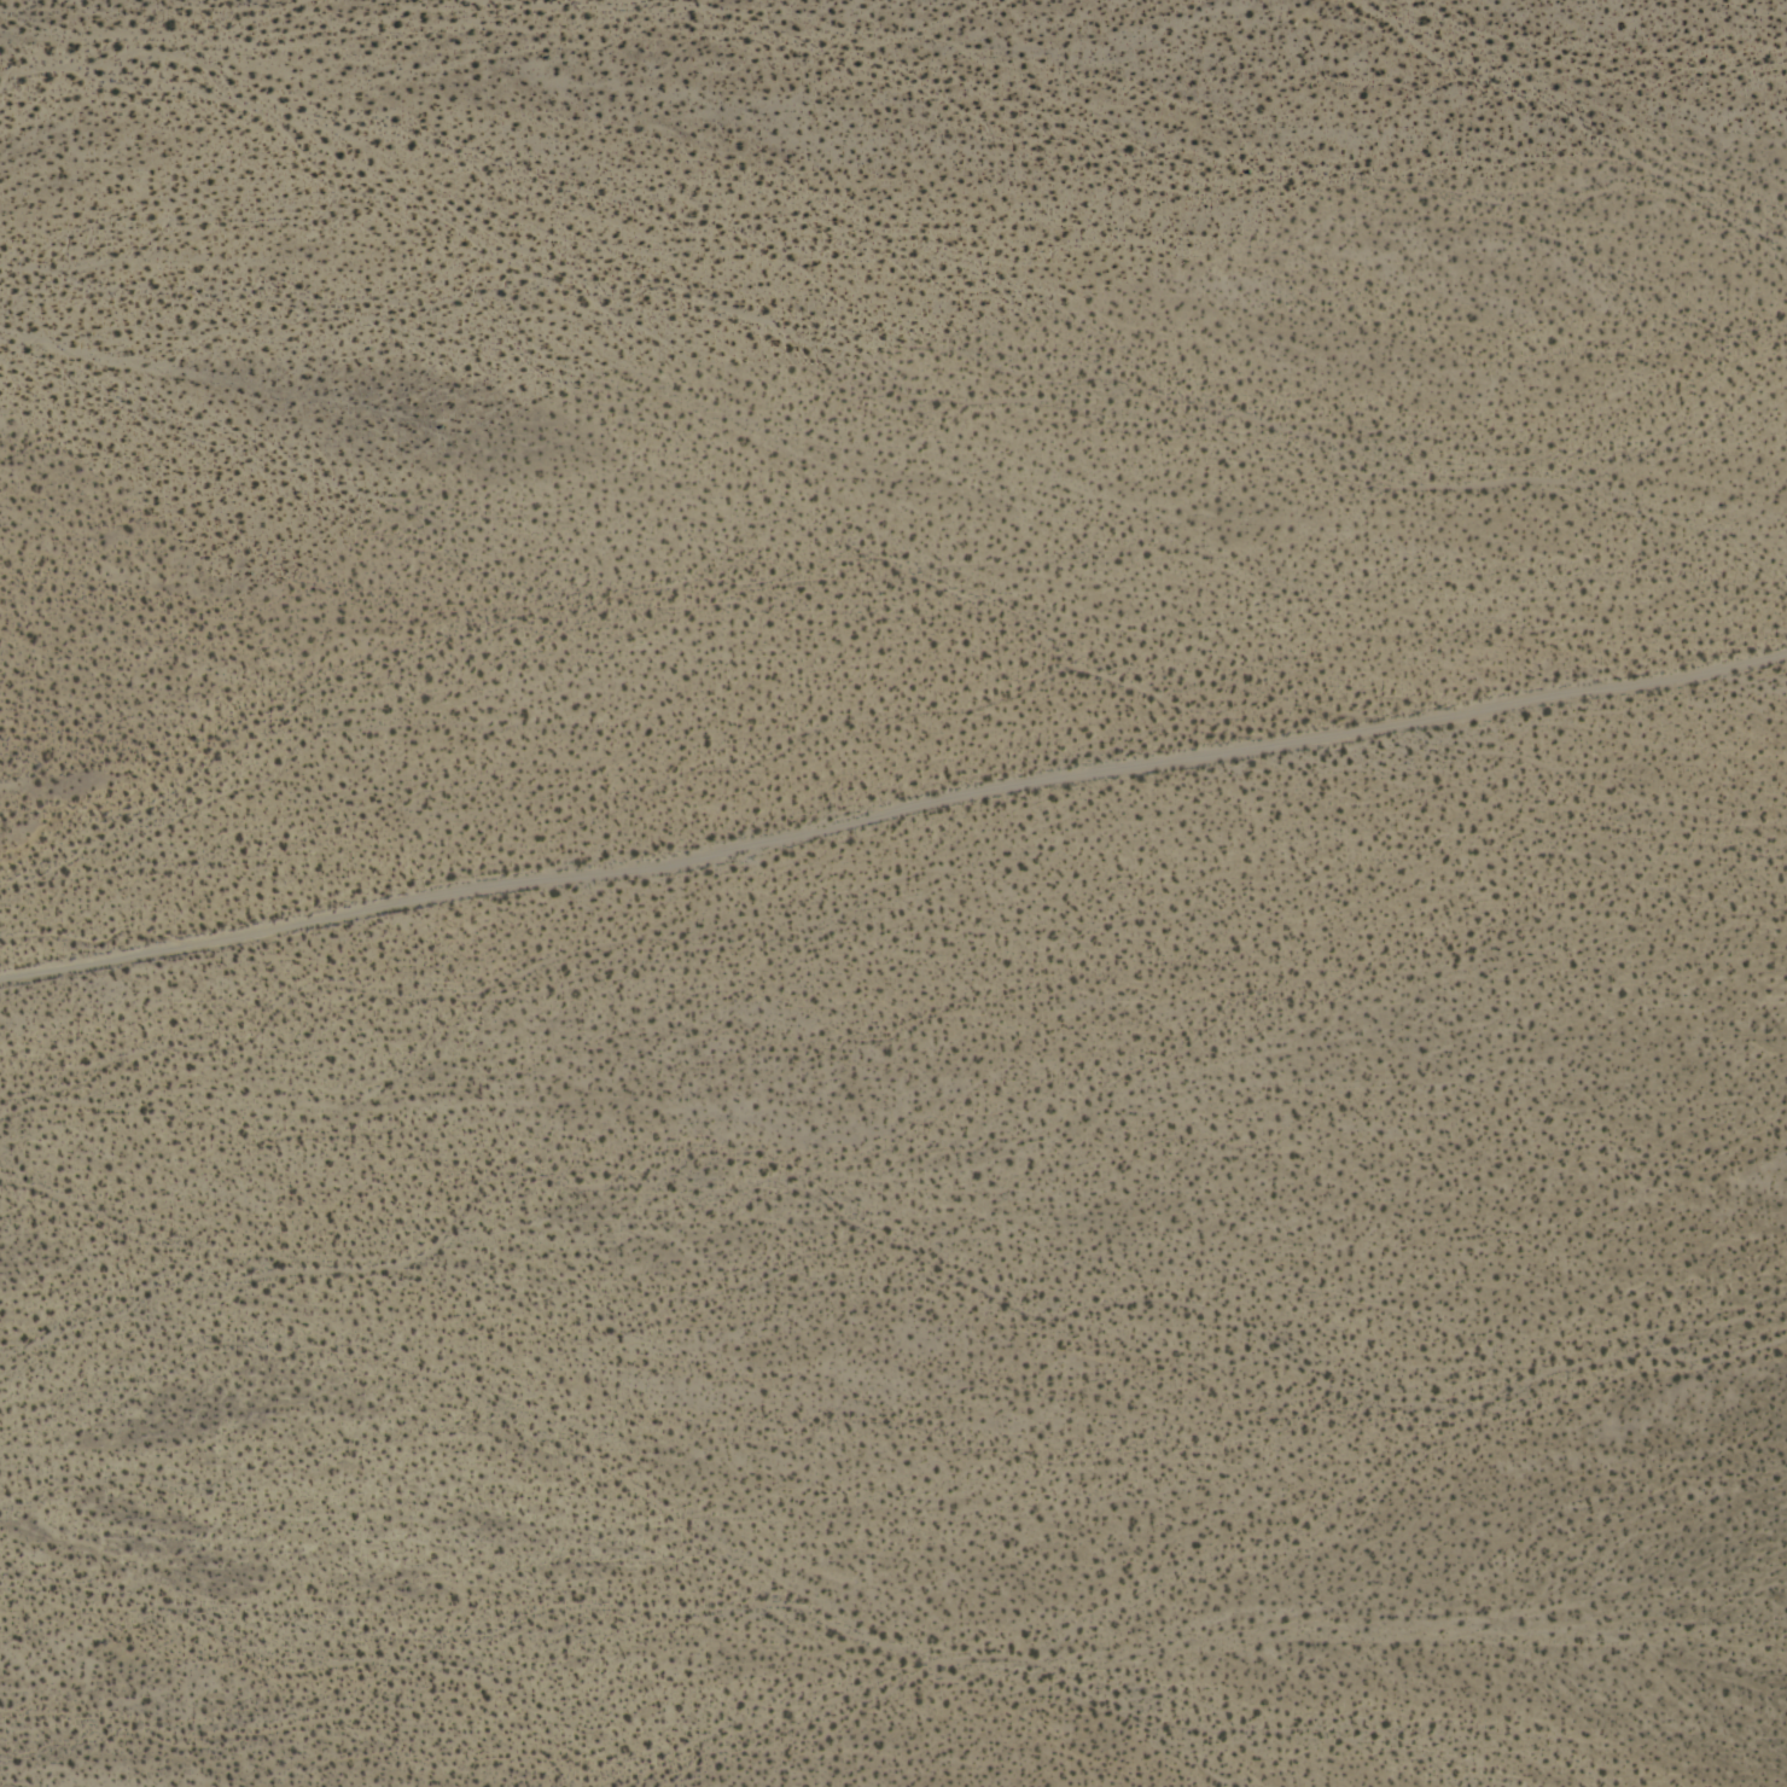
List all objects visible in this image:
road: (892, 787)

